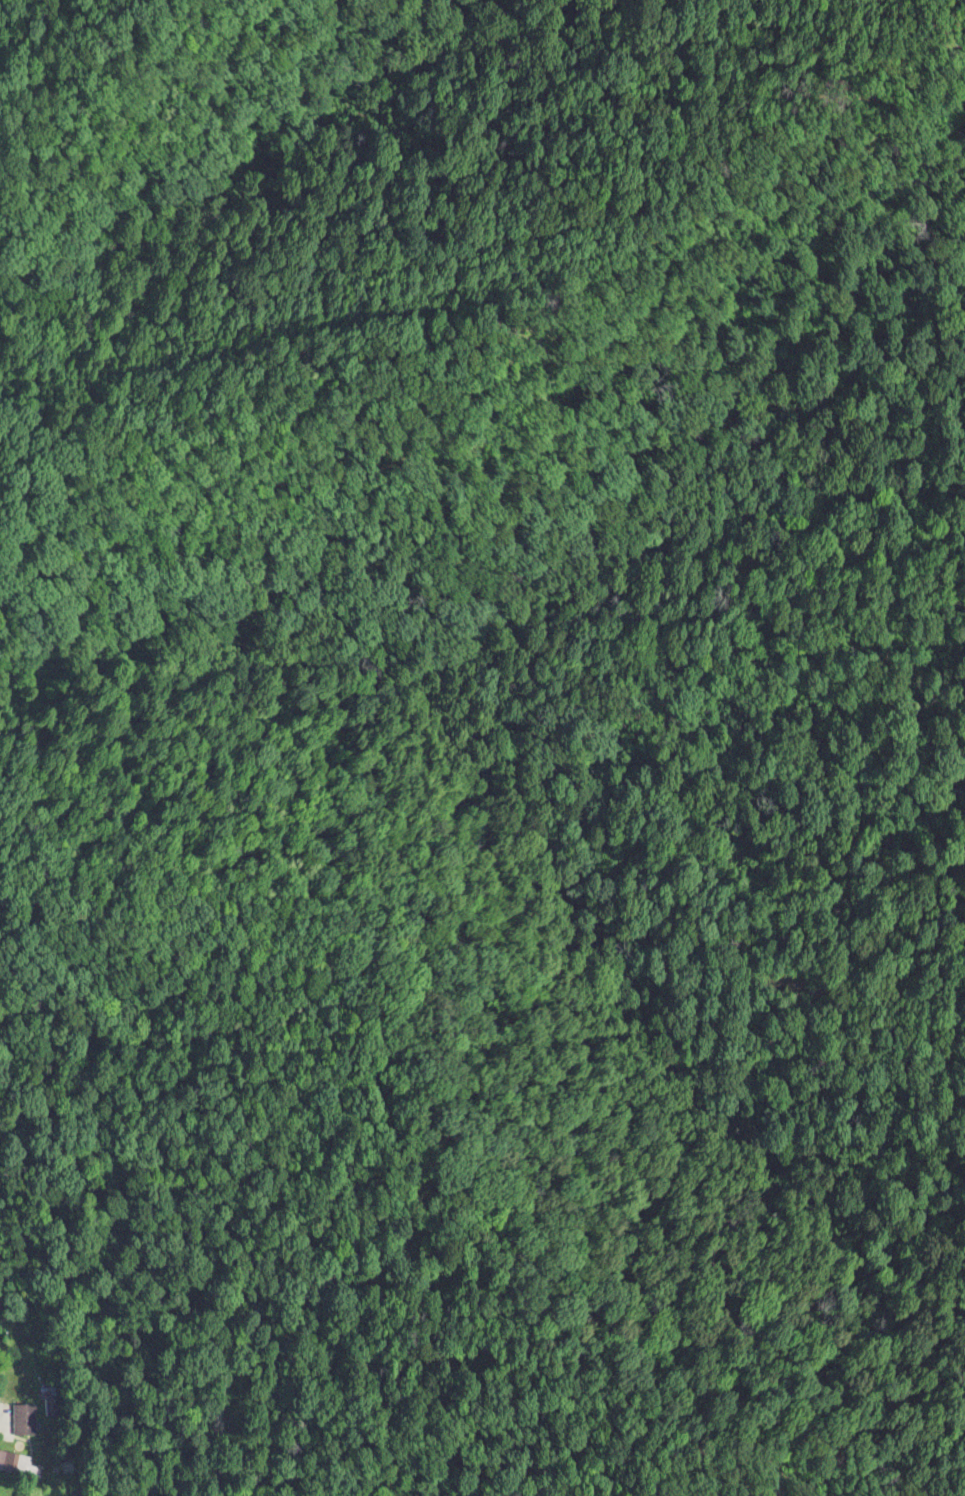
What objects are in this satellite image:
building: (20, 1420)

